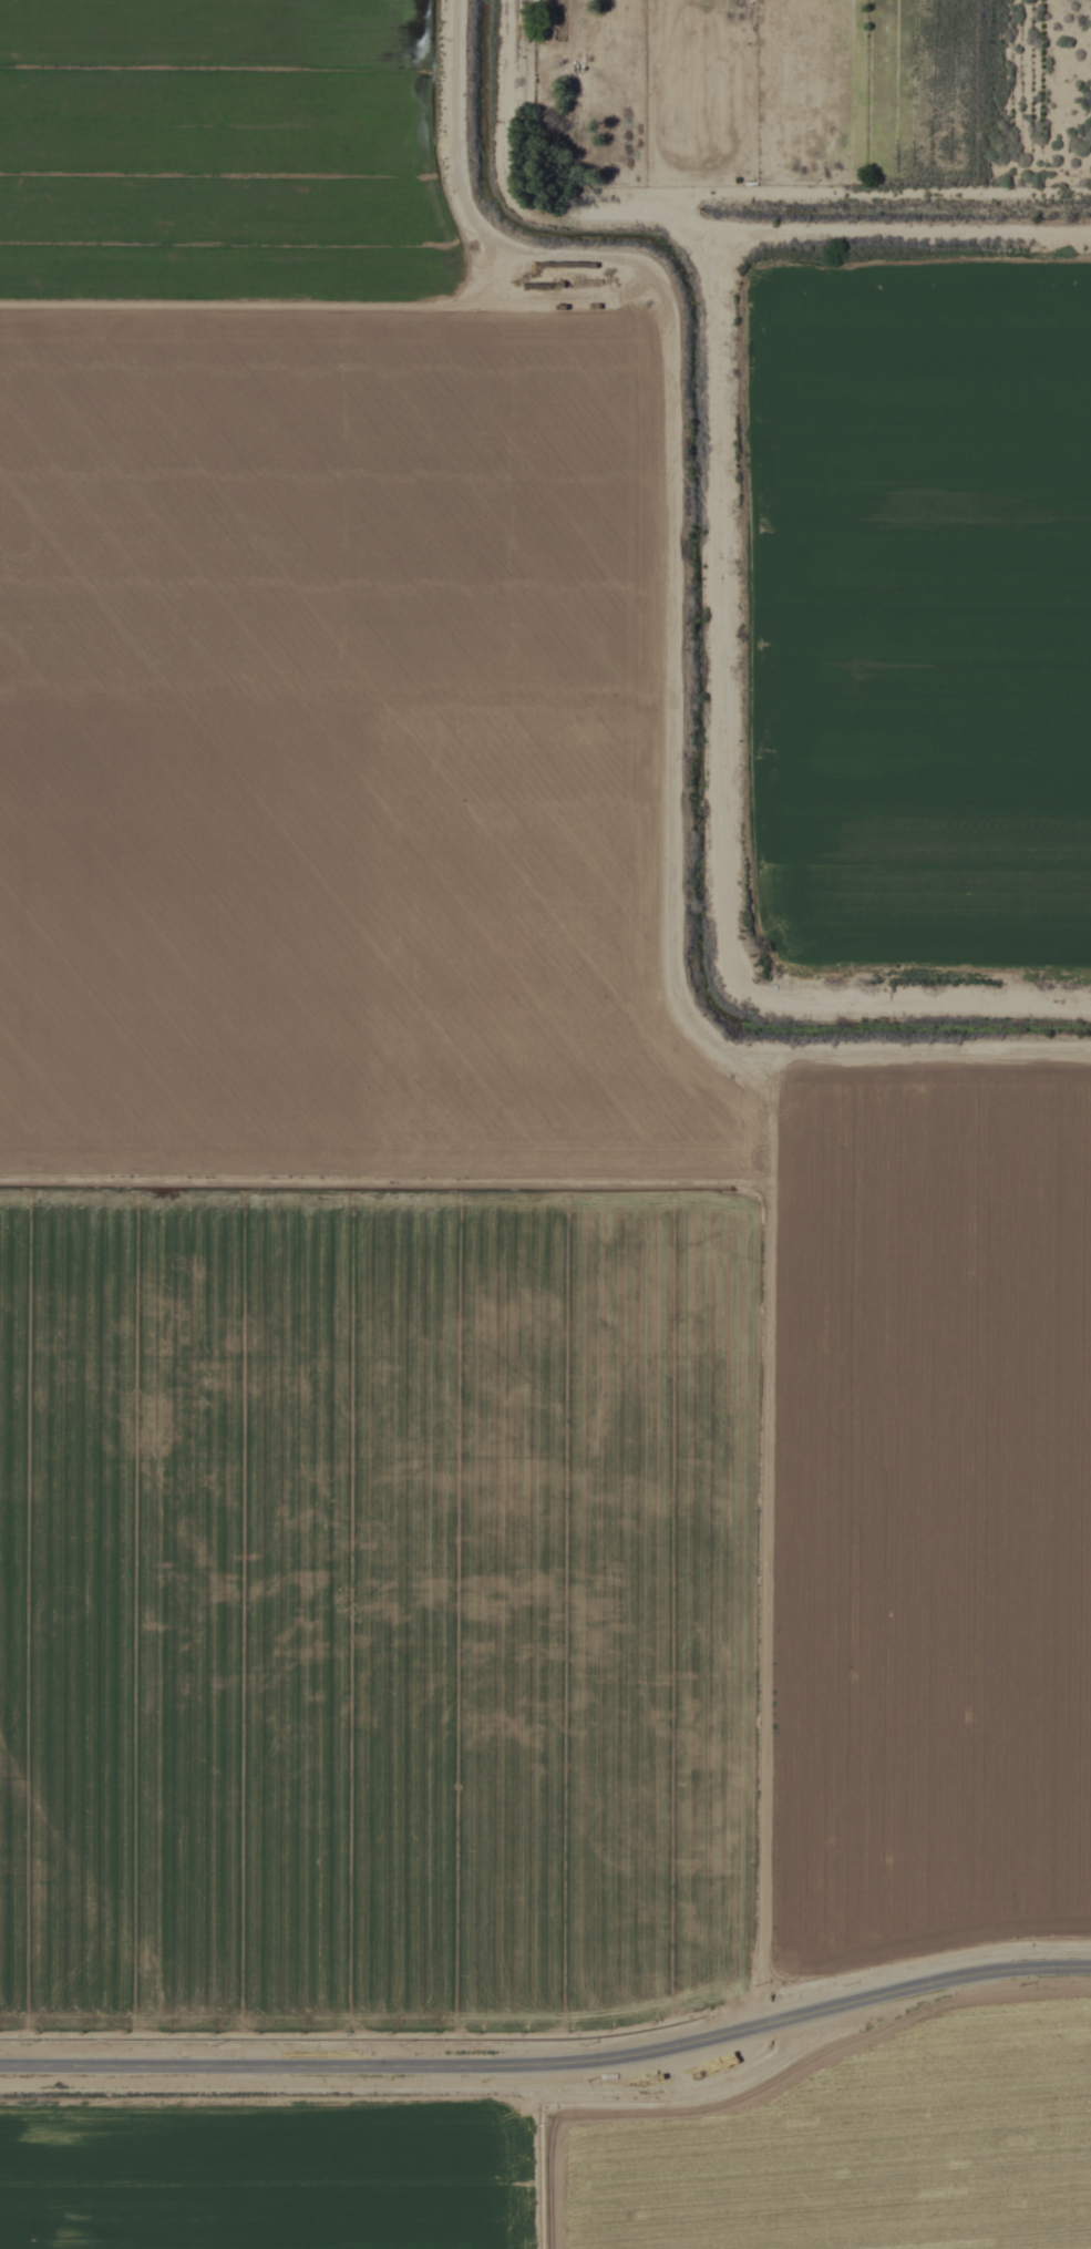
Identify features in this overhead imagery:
road: (549, 2054)

